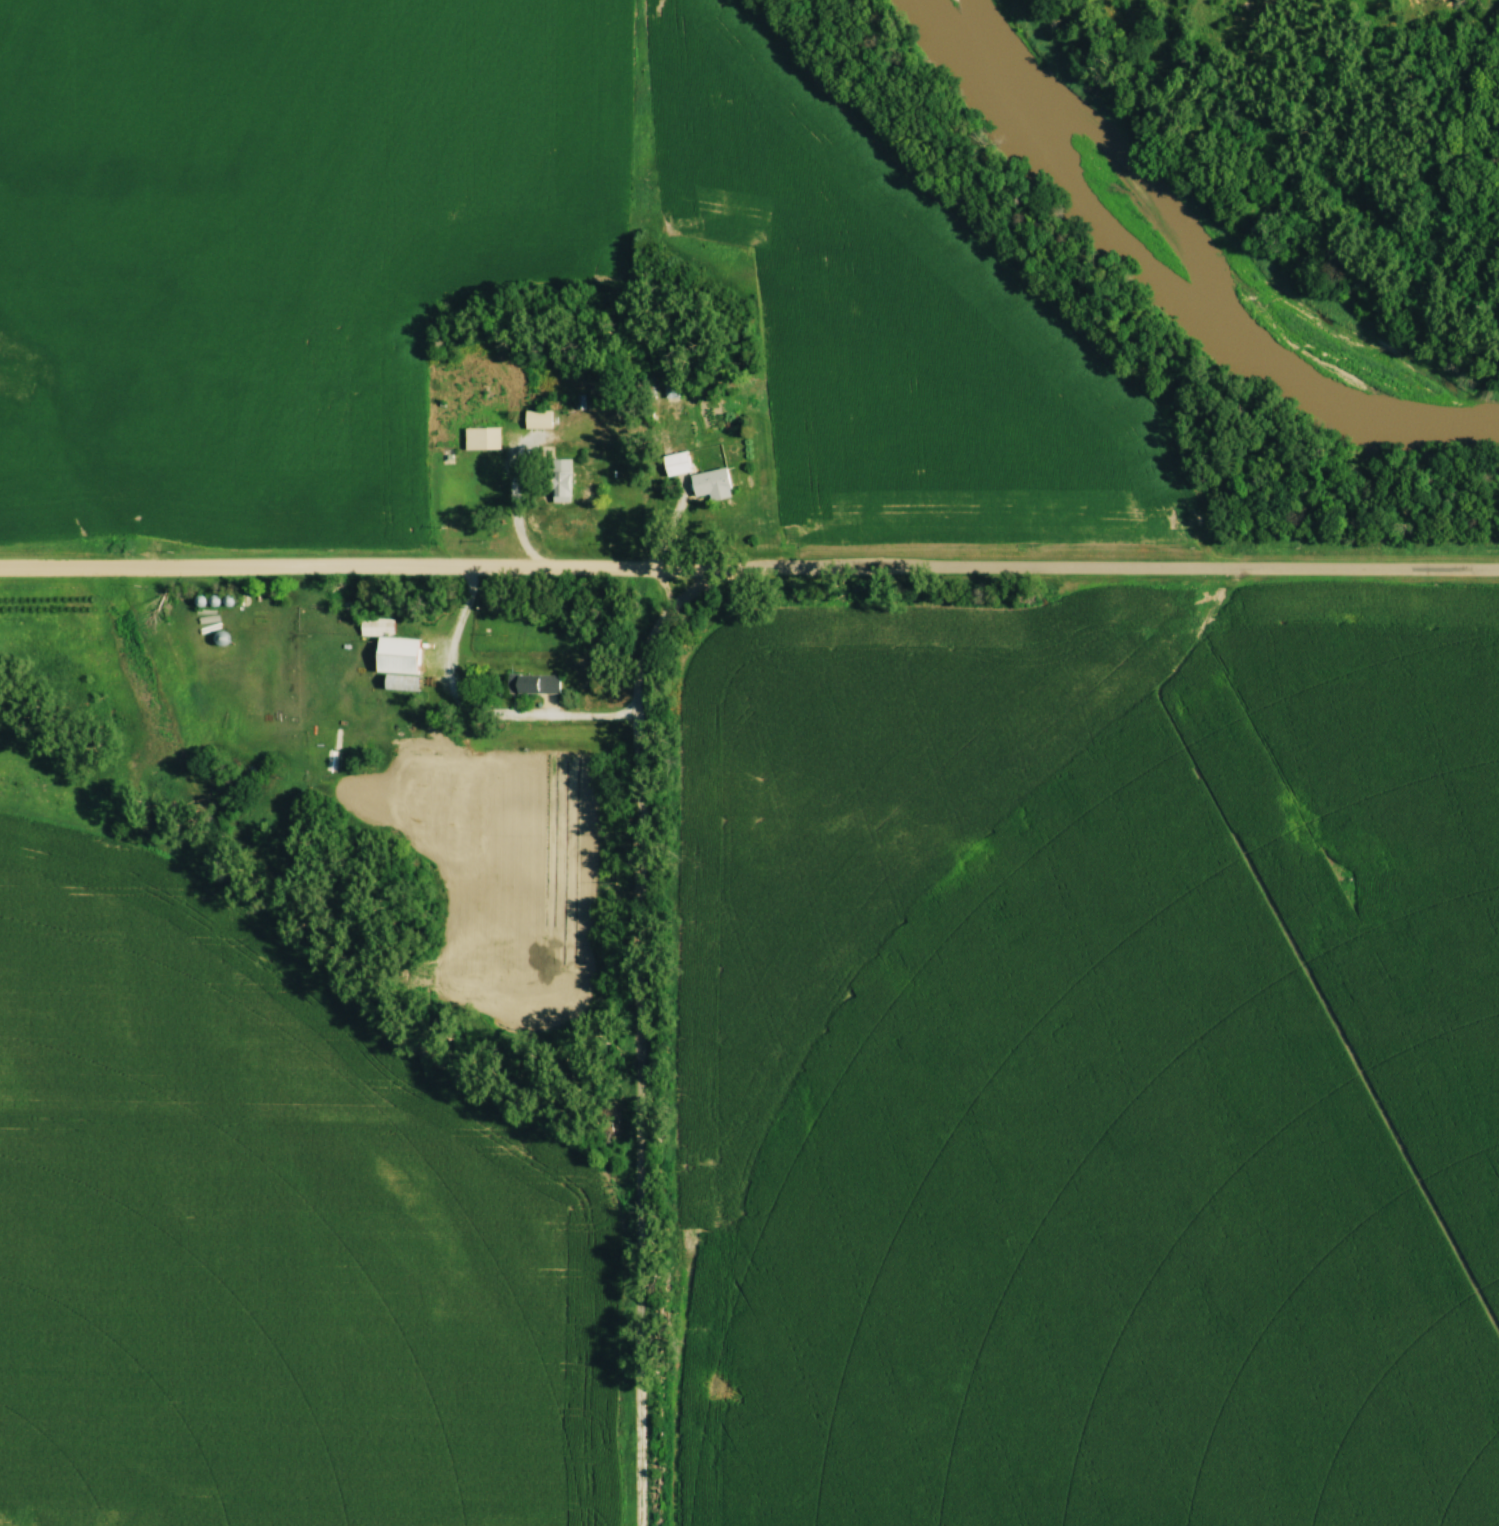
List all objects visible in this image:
river: (1201, 241)
building: (644, 387)
building: (669, 392)
building: (535, 419)
building: (479, 438)
building: (674, 464)
building: (555, 476)
building: (708, 484)
road: (358, 567)
road: (1108, 567)
building: (390, 654)
building: (530, 683)
building: (365, 758)
building: (440, 759)
road: (638, 1031)

